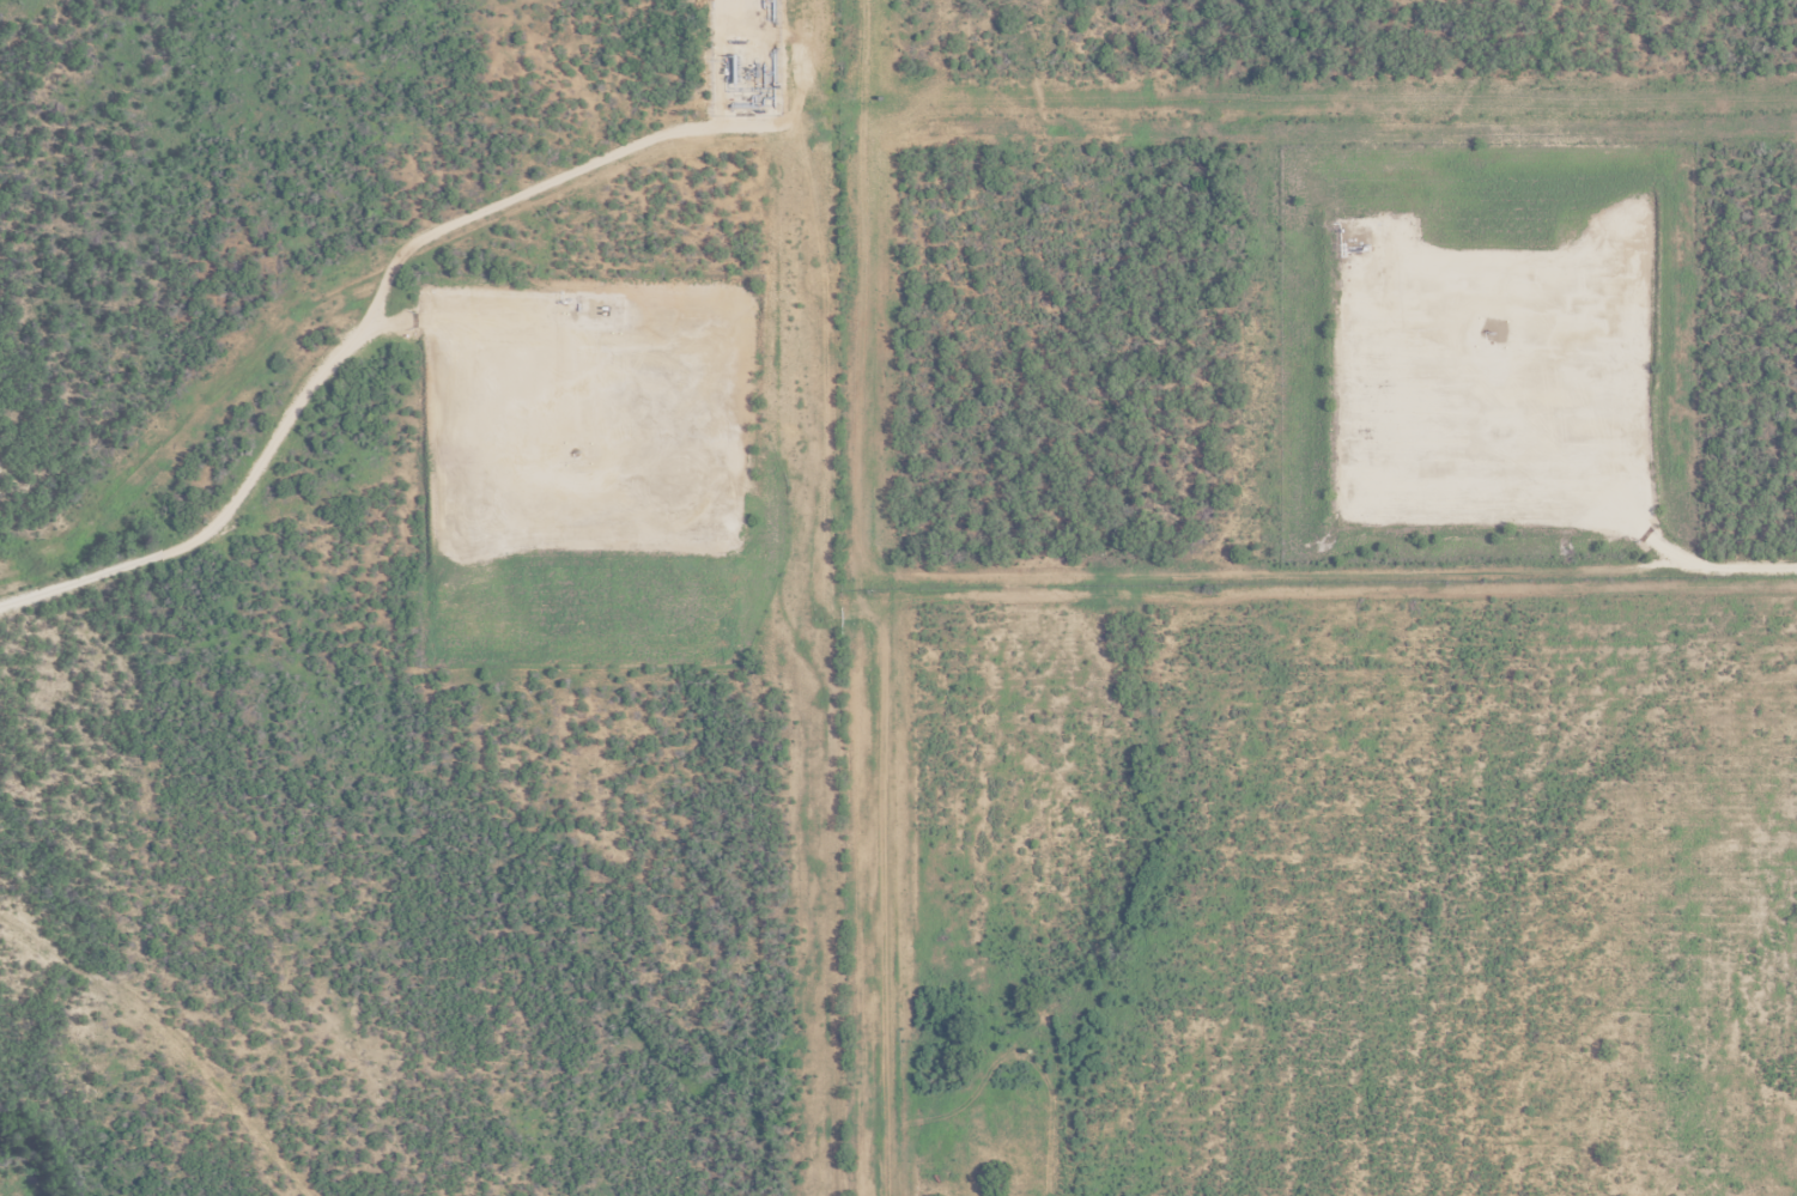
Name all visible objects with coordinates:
road: (1658, 546)

